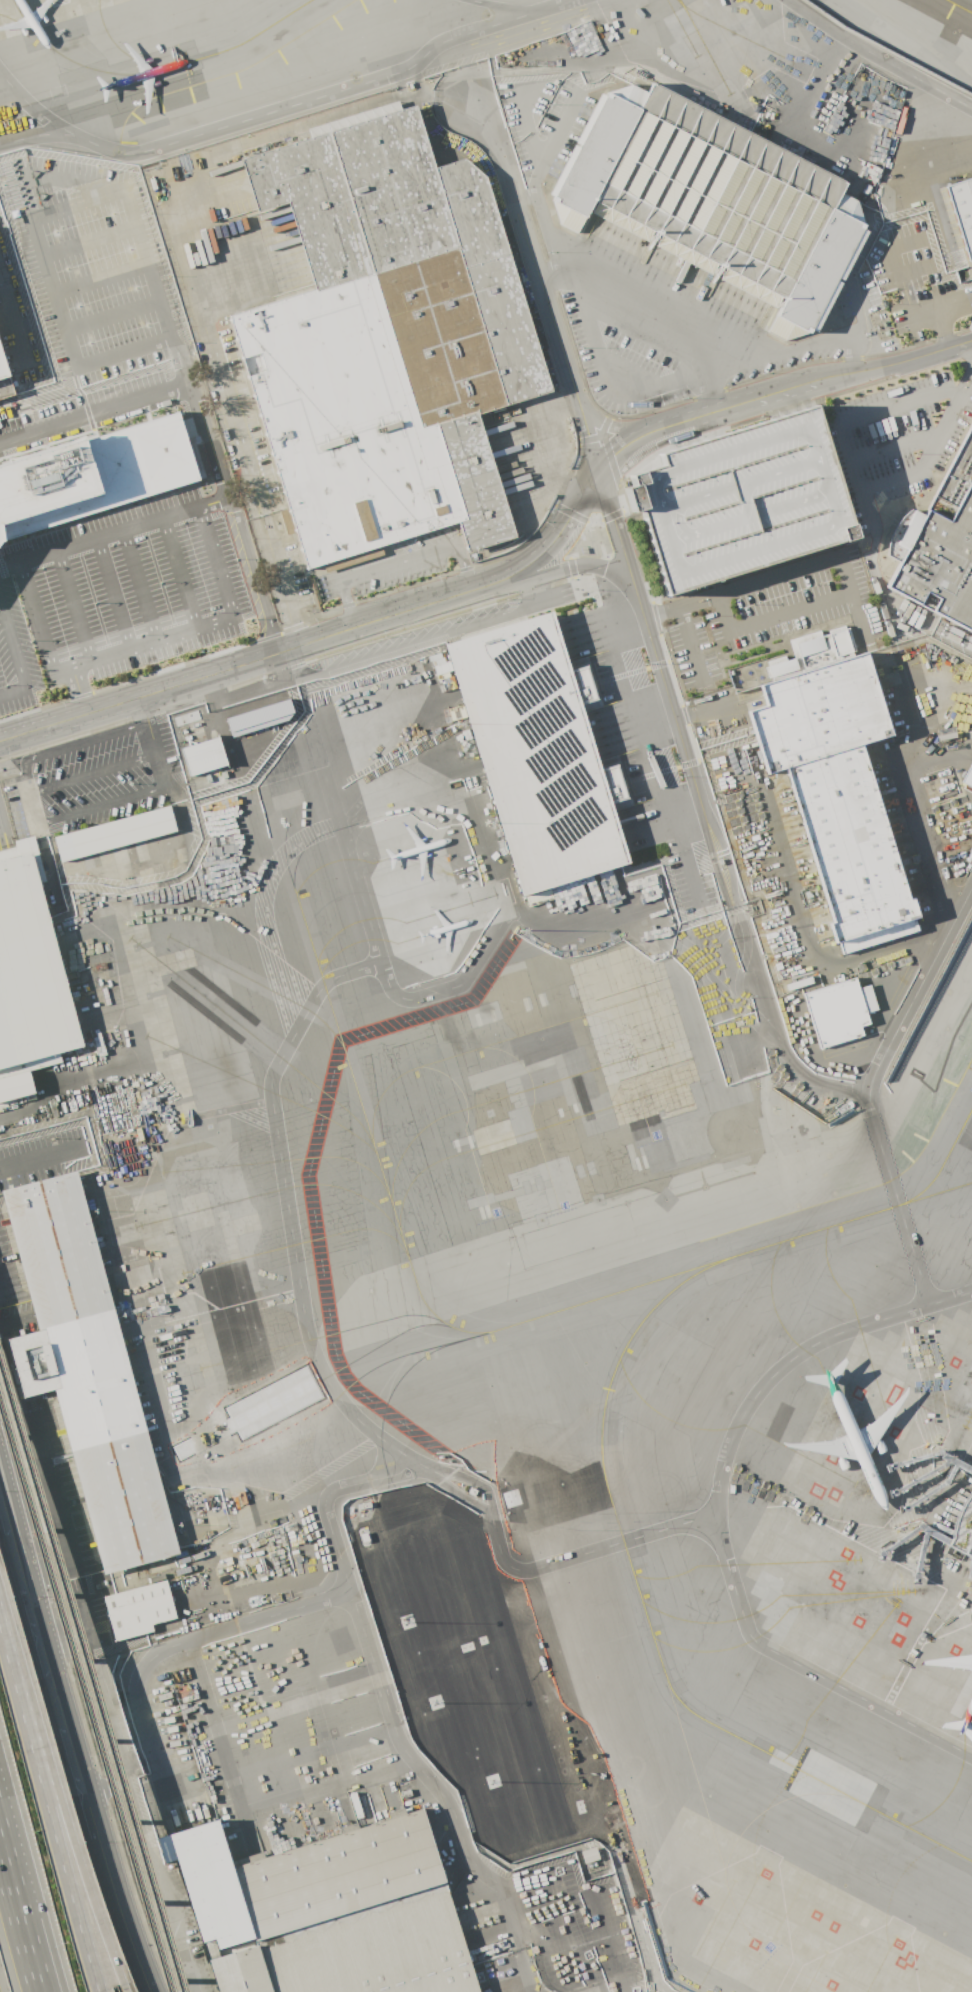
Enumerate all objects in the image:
road: (497, 6)
airport apron: (44, 13)
airport taxiway: (699, 37)
airport taxiway: (212, 52)
road: (879, 57)
road: (9, 96)
road: (445, 97)
road: (30, 106)
road: (285, 106)
road: (524, 107)
road: (538, 149)
road: (554, 152)
parking lot: (521, 156)
road: (20, 176)
building: (713, 196)
road: (75, 203)
building: (962, 211)
road: (171, 213)
road: (548, 233)
road: (86, 239)
road: (98, 278)
road: (619, 304)
road: (945, 308)
road: (109, 316)
road: (554, 323)
building: (385, 340)
road: (970, 345)
road: (766, 354)
road: (891, 363)
road: (603, 369)
building: (4, 382)
road: (968, 386)
road: (781, 388)
road: (89, 406)
road: (721, 406)
road: (604, 424)
road: (640, 436)
road: (197, 439)
road: (896, 444)
road: (850, 465)
building: (92, 473)
building: (739, 500)
parking lot: (739, 500)
building: (938, 544)
road: (28, 556)
road: (393, 560)
road: (9, 565)
road: (580, 566)
road: (177, 575)
road: (241, 577)
road: (771, 578)
road: (505, 579)
road: (277, 580)
road: (138, 587)
road: (112, 595)
road: (74, 607)
road: (673, 608)
road: (788, 613)
road: (209, 629)
road: (329, 633)
road: (649, 639)
road: (414, 640)
road: (689, 643)
road: (14, 660)
road: (217, 671)
road: (700, 712)
building: (257, 716)
road: (69, 717)
building: (184, 717)
road: (146, 724)
road: (70, 745)
building: (537, 752)
building: (201, 755)
building: (967, 775)
building: (199, 782)
building: (835, 792)
road: (918, 810)
road: (701, 819)
road: (38, 826)
building: (113, 832)
road: (682, 846)
building: (28, 976)
road: (457, 981)
airport: (488, 990)
building: (837, 1009)
road: (796, 1069)
road: (270, 1074)
road: (870, 1087)
airport apron: (366, 1093)
road: (38, 1170)
airport taxiway: (934, 1193)
airport taxiway: (401, 1240)
airport taxiway: (450, 1341)
building: (84, 1371)
airport taxiway: (602, 1473)
road: (0, 1499)
road: (5, 1517)
road: (717, 1517)
road: (306, 1522)
airport apron: (879, 1528)
airport terminal: (961, 1533)
building: (961, 1533)
road: (17, 1560)
road: (514, 1595)
building: (137, 1608)
road: (31, 1612)
road: (225, 1627)
road: (43, 1654)
airport apron: (476, 1675)
railway: (89, 1681)
road: (56, 1699)
railway: (84, 1699)
road: (687, 1736)
road: (416, 1742)
road: (73, 1759)
road: (438, 1791)
road: (61, 1812)
road: (88, 1813)
road: (46, 1818)
road: (145, 1854)
building: (587, 1854)
road: (36, 1902)
road: (634, 1910)
building: (324, 1912)
road: (119, 1913)
road: (19, 1923)
airport apron: (780, 1925)

